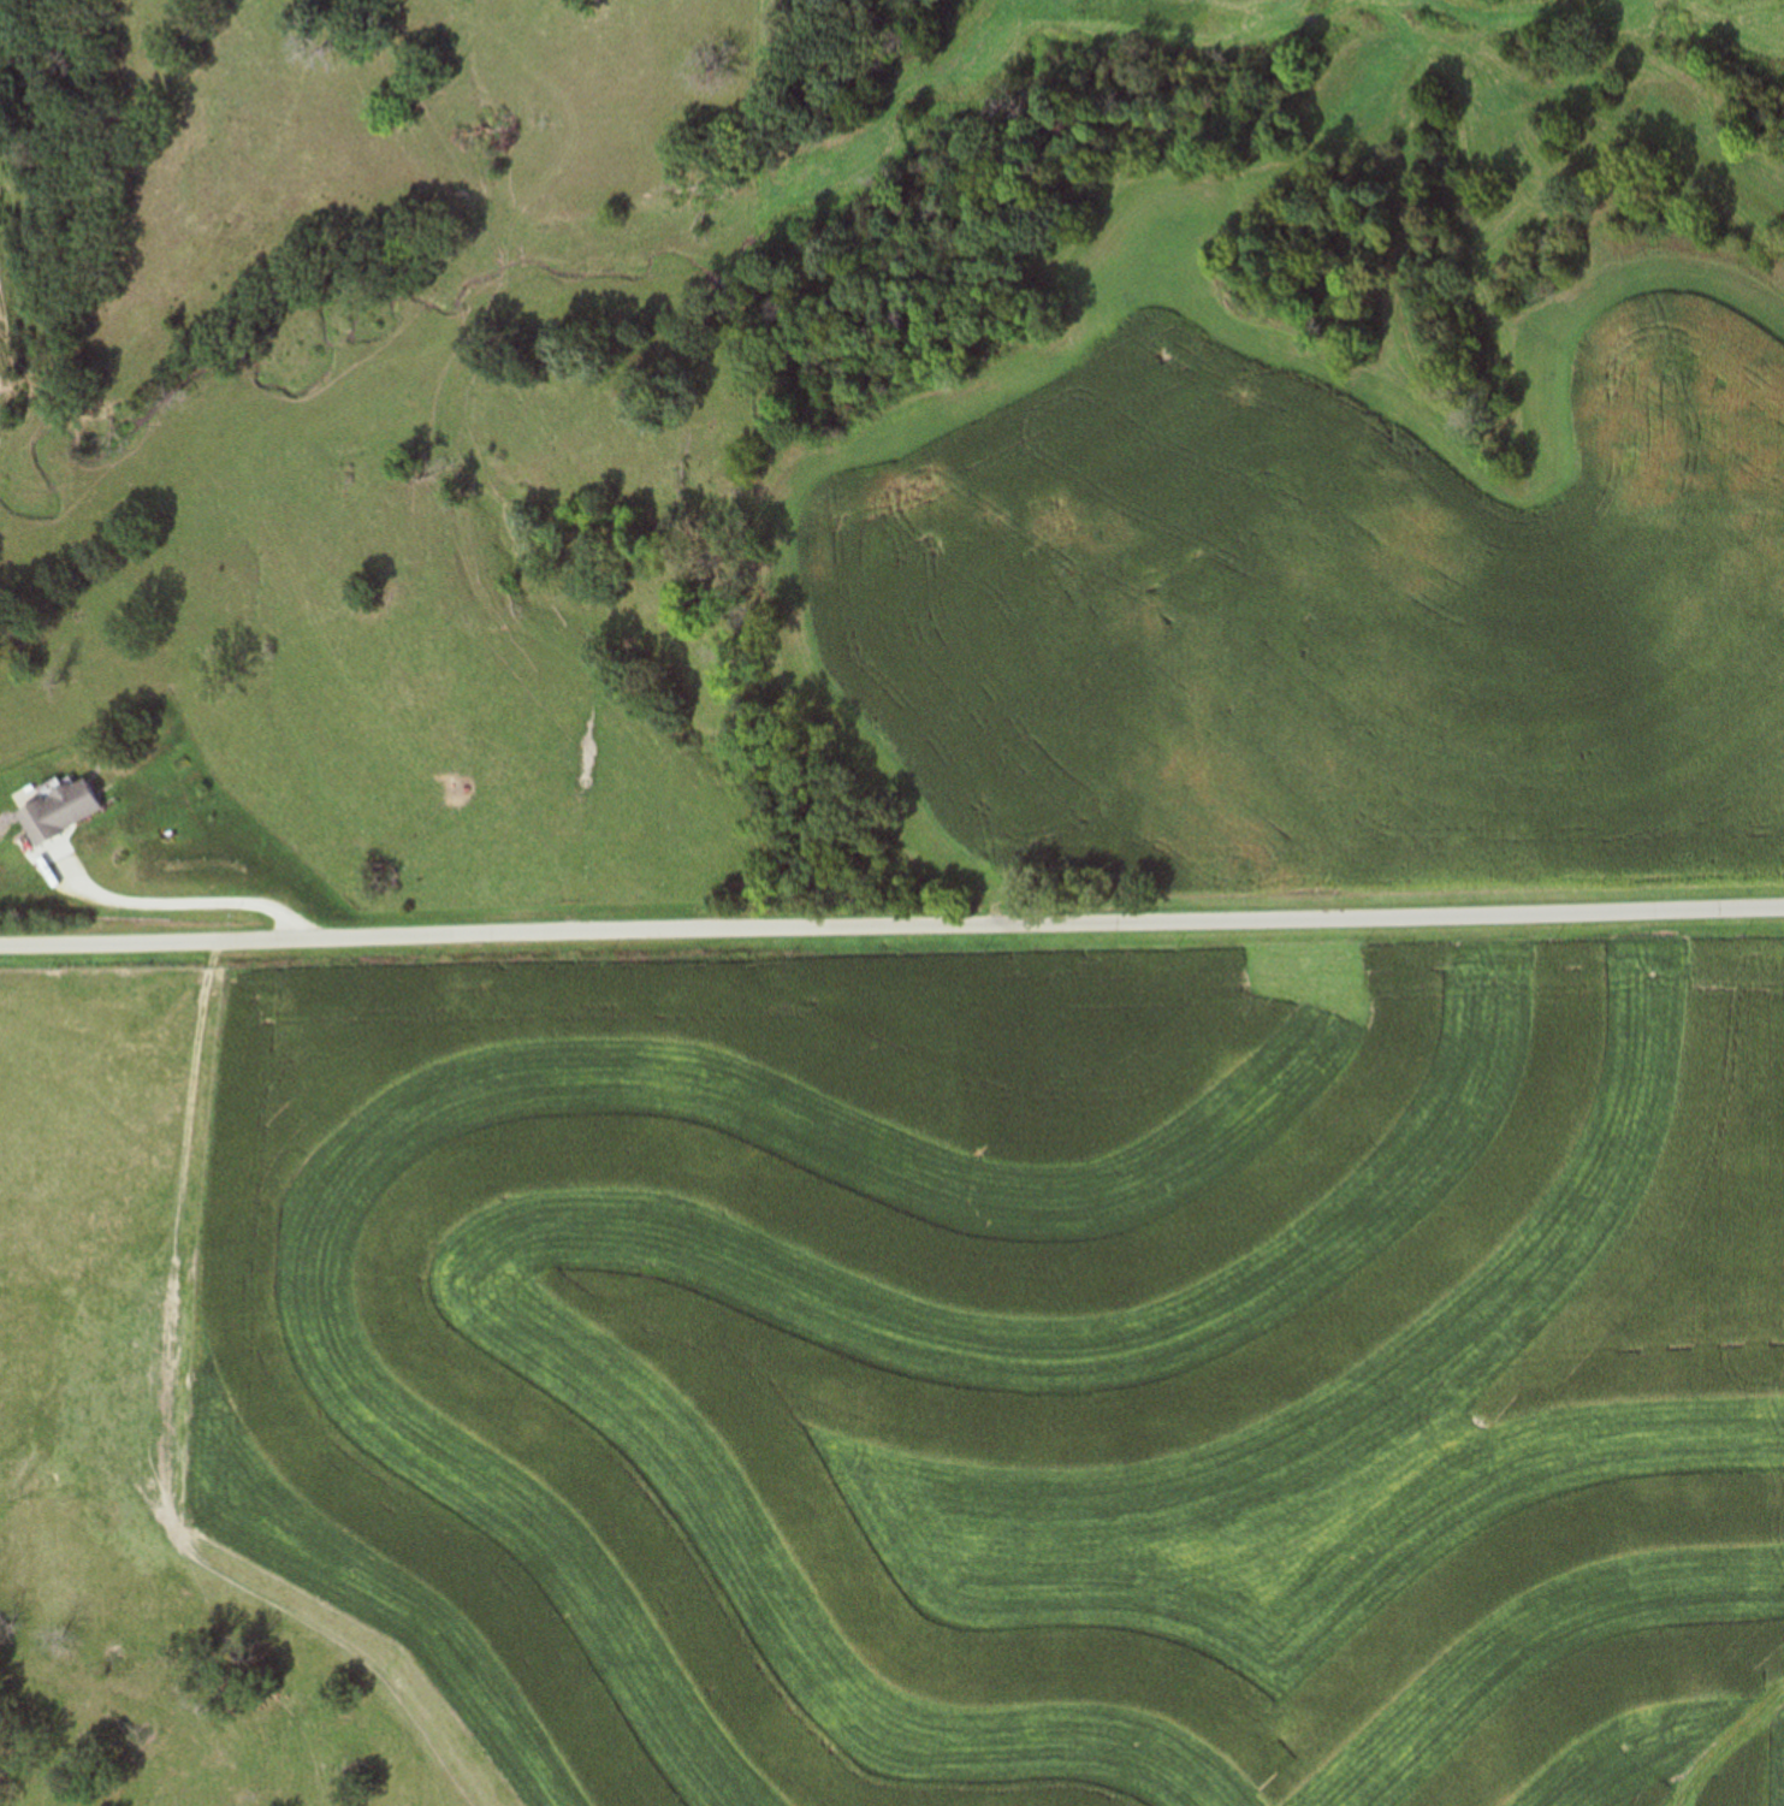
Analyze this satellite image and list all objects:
building: (60, 812)
road: (891, 926)

